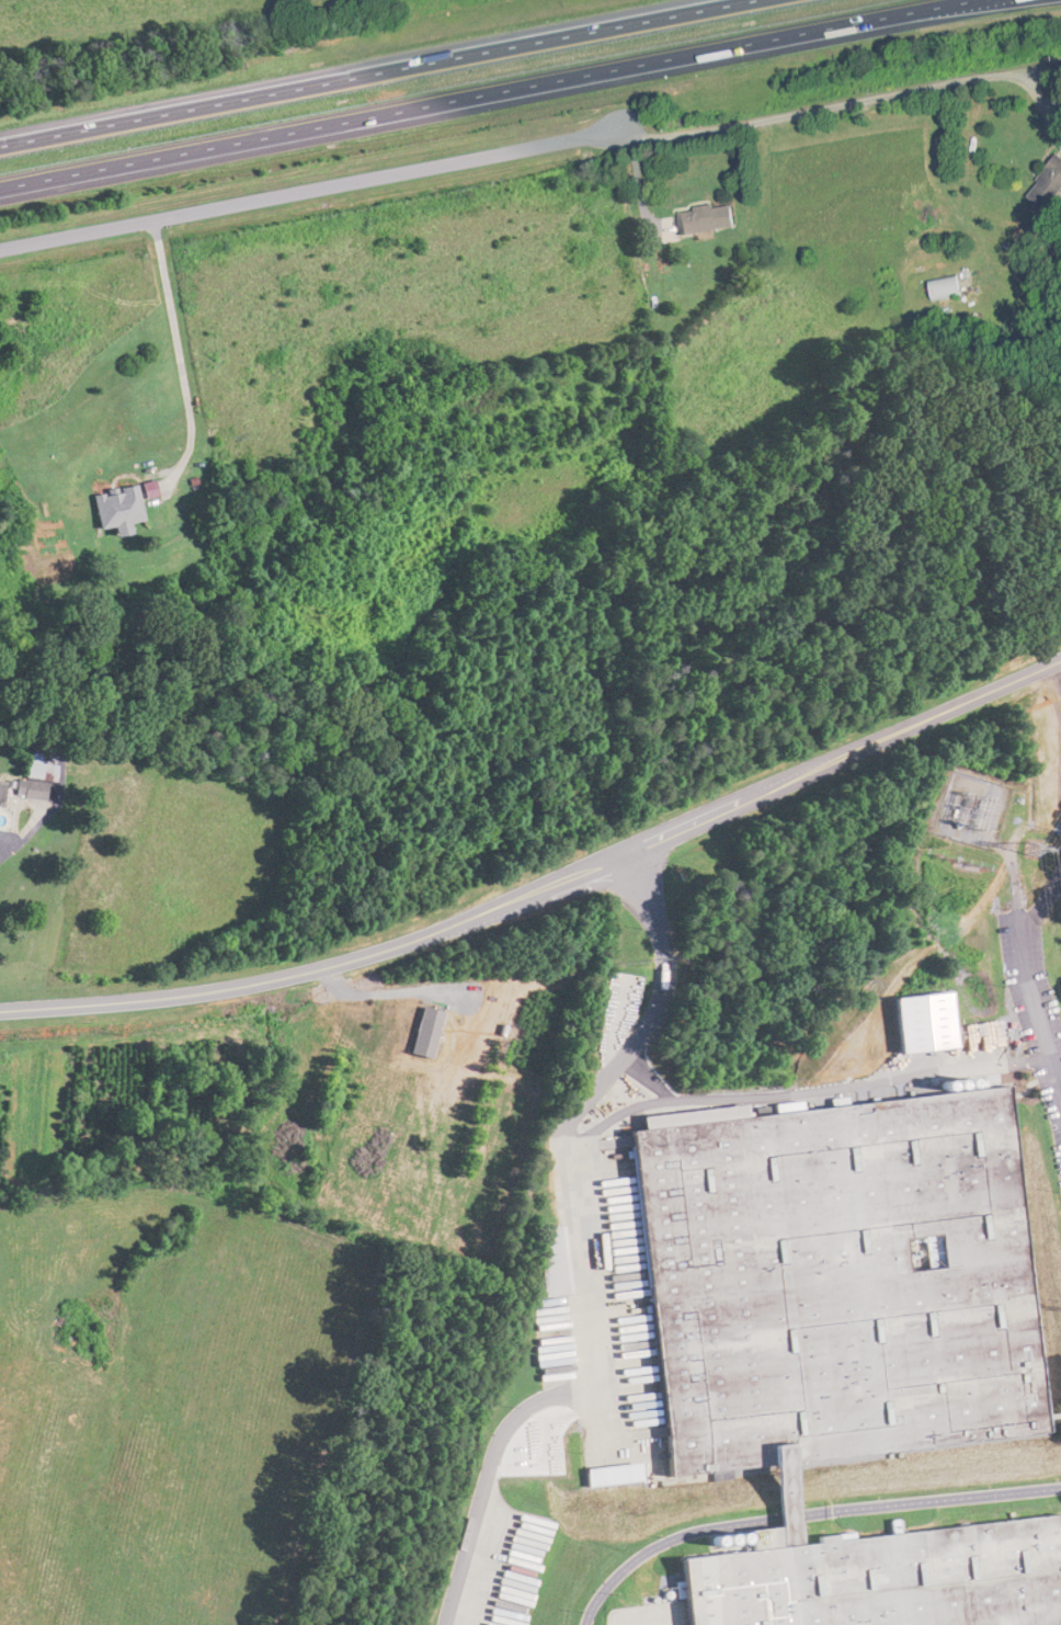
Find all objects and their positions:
road: (378, 72)
road: (488, 93)
road: (512, 137)
building: (1047, 182)
building: (701, 219)
building: (943, 288)
road: (176, 341)
building: (113, 509)
building: (31, 781)
power substation: (970, 807)
road: (1, 843)
road: (543, 893)
building: (546, 1259)
road: (578, 1260)
building: (836, 1286)
building: (613, 1474)
building: (789, 1507)
building: (889, 1579)

